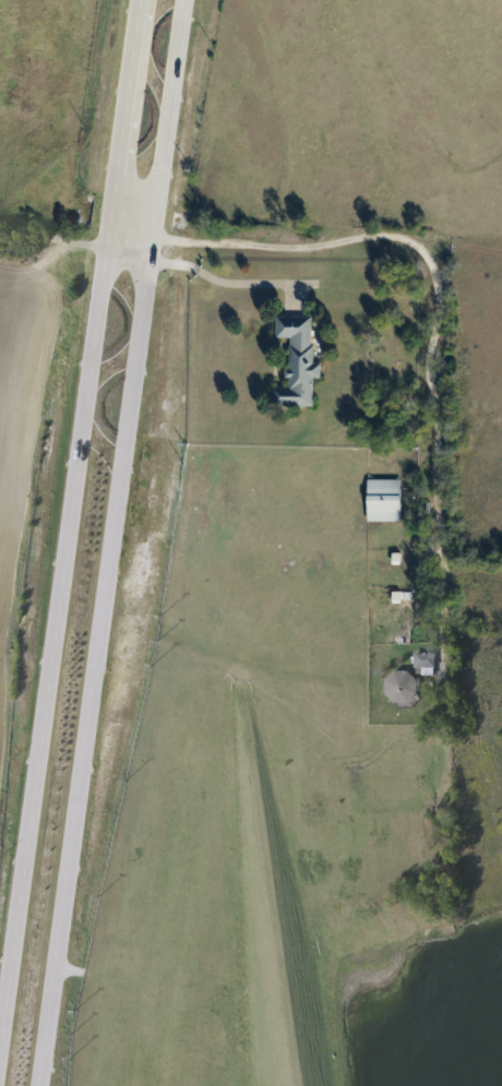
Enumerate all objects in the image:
road: (127, 219)
road: (176, 259)
road: (241, 282)
road: (435, 312)
building: (296, 360)
road: (65, 499)
building: (383, 499)
road: (106, 542)
building: (421, 660)
building: (399, 687)

